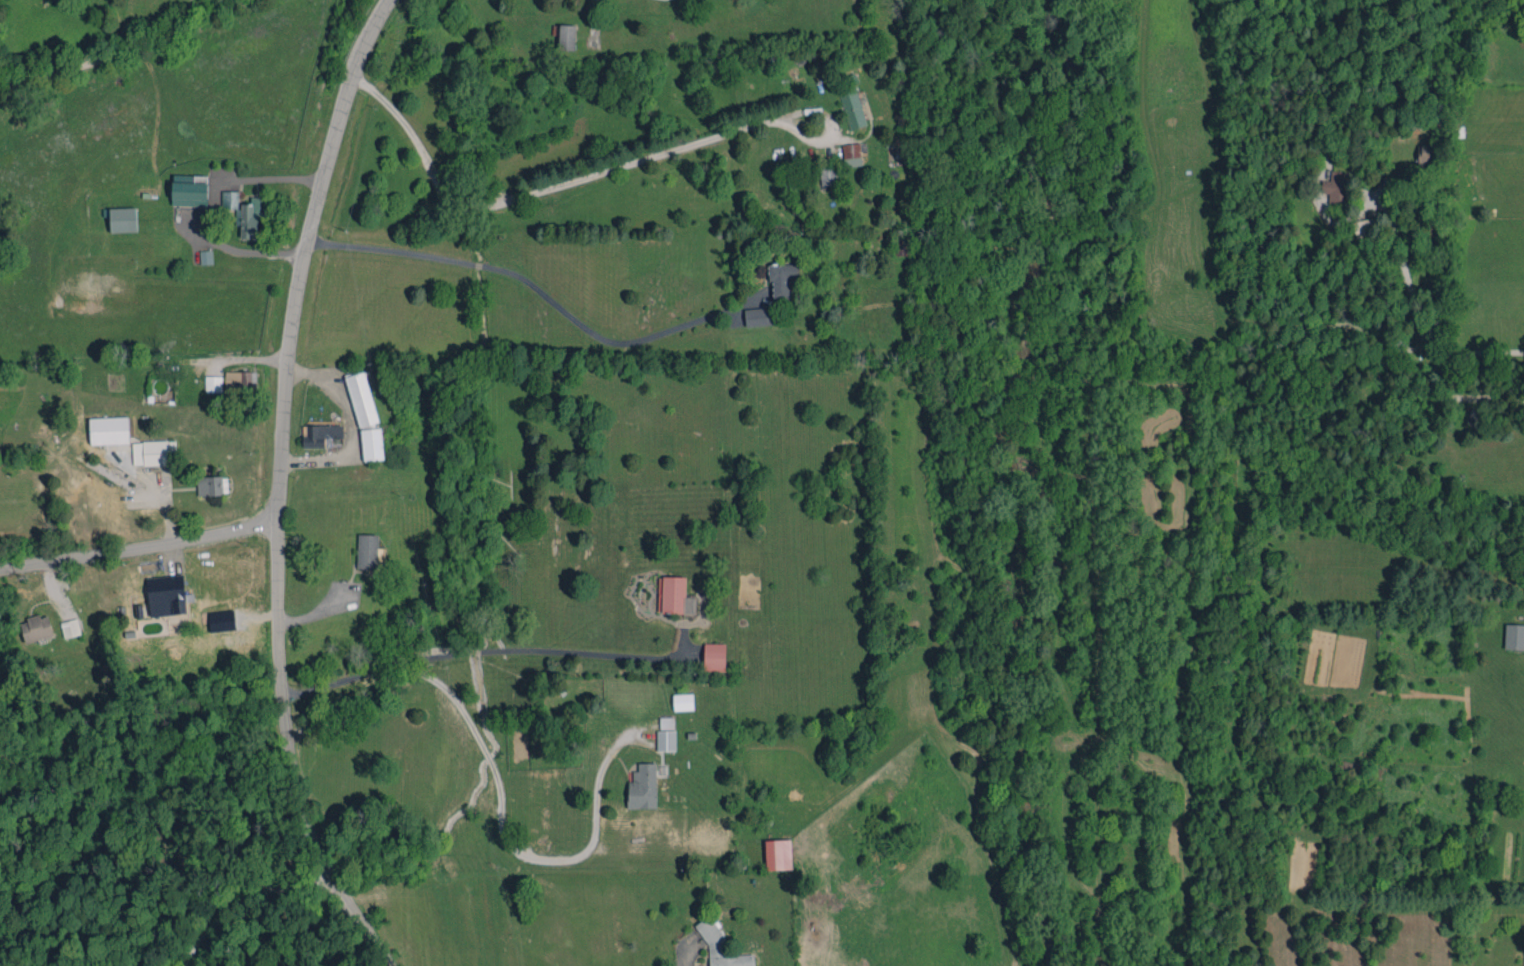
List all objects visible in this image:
building: (567, 36)
road: (124, 50)
building: (852, 108)
building: (853, 154)
building: (1425, 155)
building: (828, 176)
road: (269, 179)
road: (553, 185)
building: (1335, 187)
building: (189, 193)
building: (229, 199)
building: (123, 219)
building: (900, 246)
road: (239, 251)
building: (206, 256)
building: (782, 278)
road: (530, 284)
building: (758, 316)
road: (1416, 319)
building: (213, 383)
road: (1493, 396)
building: (362, 399)
building: (109, 430)
building: (320, 435)
building: (372, 444)
building: (154, 452)
building: (210, 485)
road: (278, 486)
road: (138, 548)
building: (367, 551)
building: (674, 595)
building: (166, 600)
building: (36, 628)
building: (70, 628)
building: (1514, 636)
road: (476, 651)
building: (714, 656)
building: (683, 701)
building: (666, 722)
building: (666, 740)
building: (642, 787)
road: (507, 844)
building: (778, 854)
road: (246, 898)
building: (720, 946)

